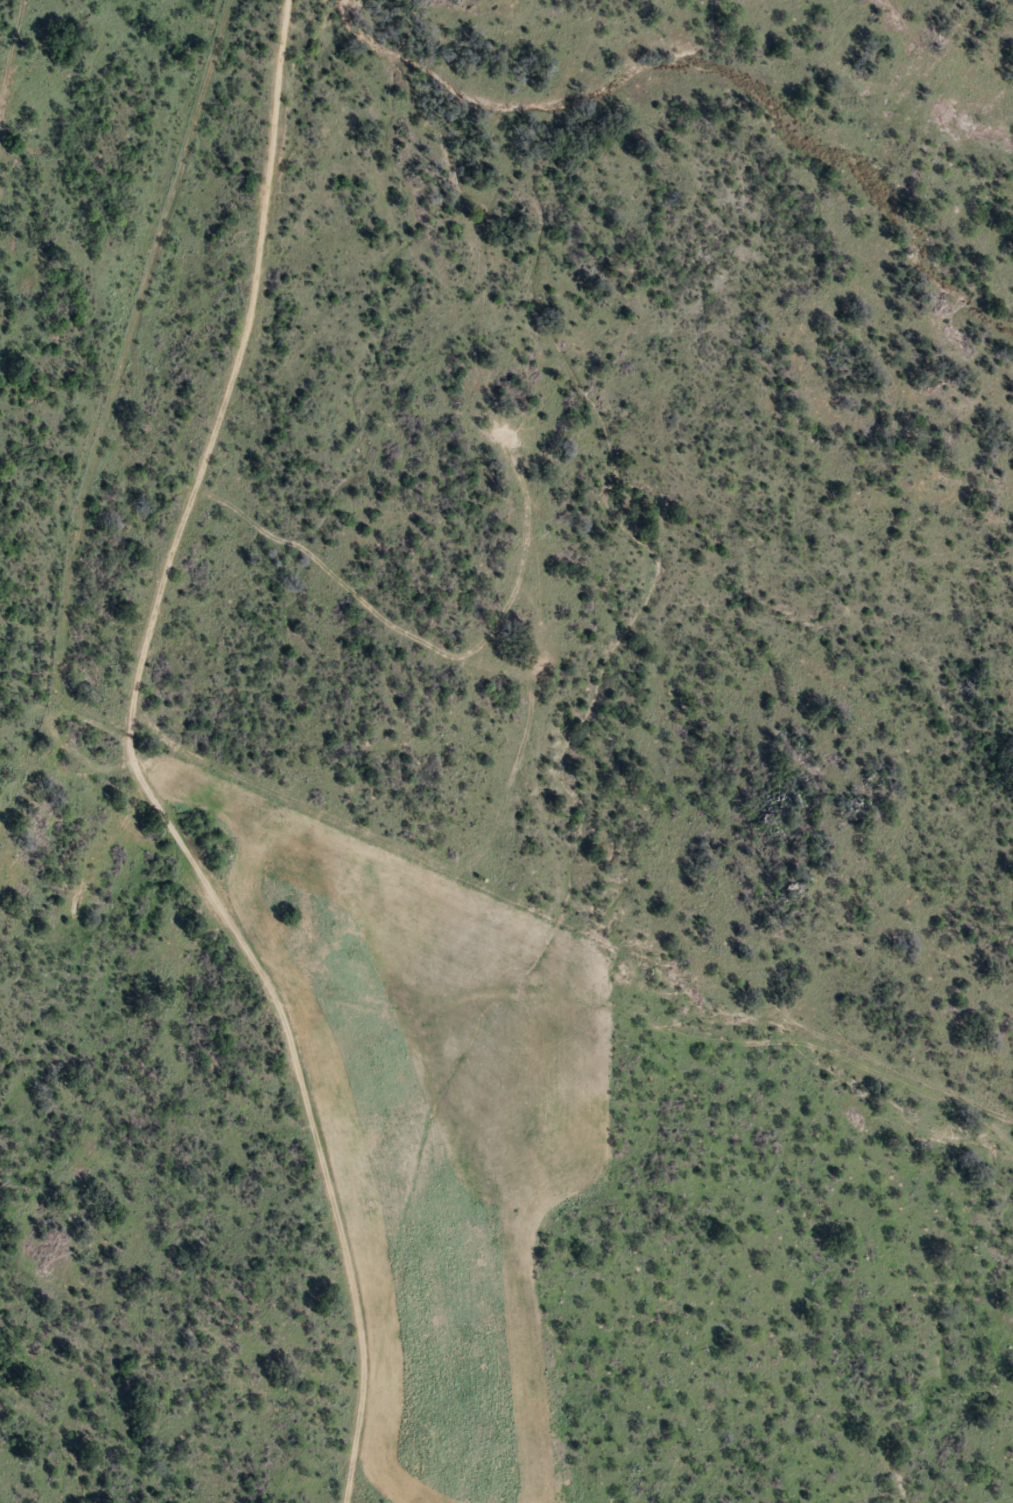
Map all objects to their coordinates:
road: (219, 784)
road: (301, 1105)

